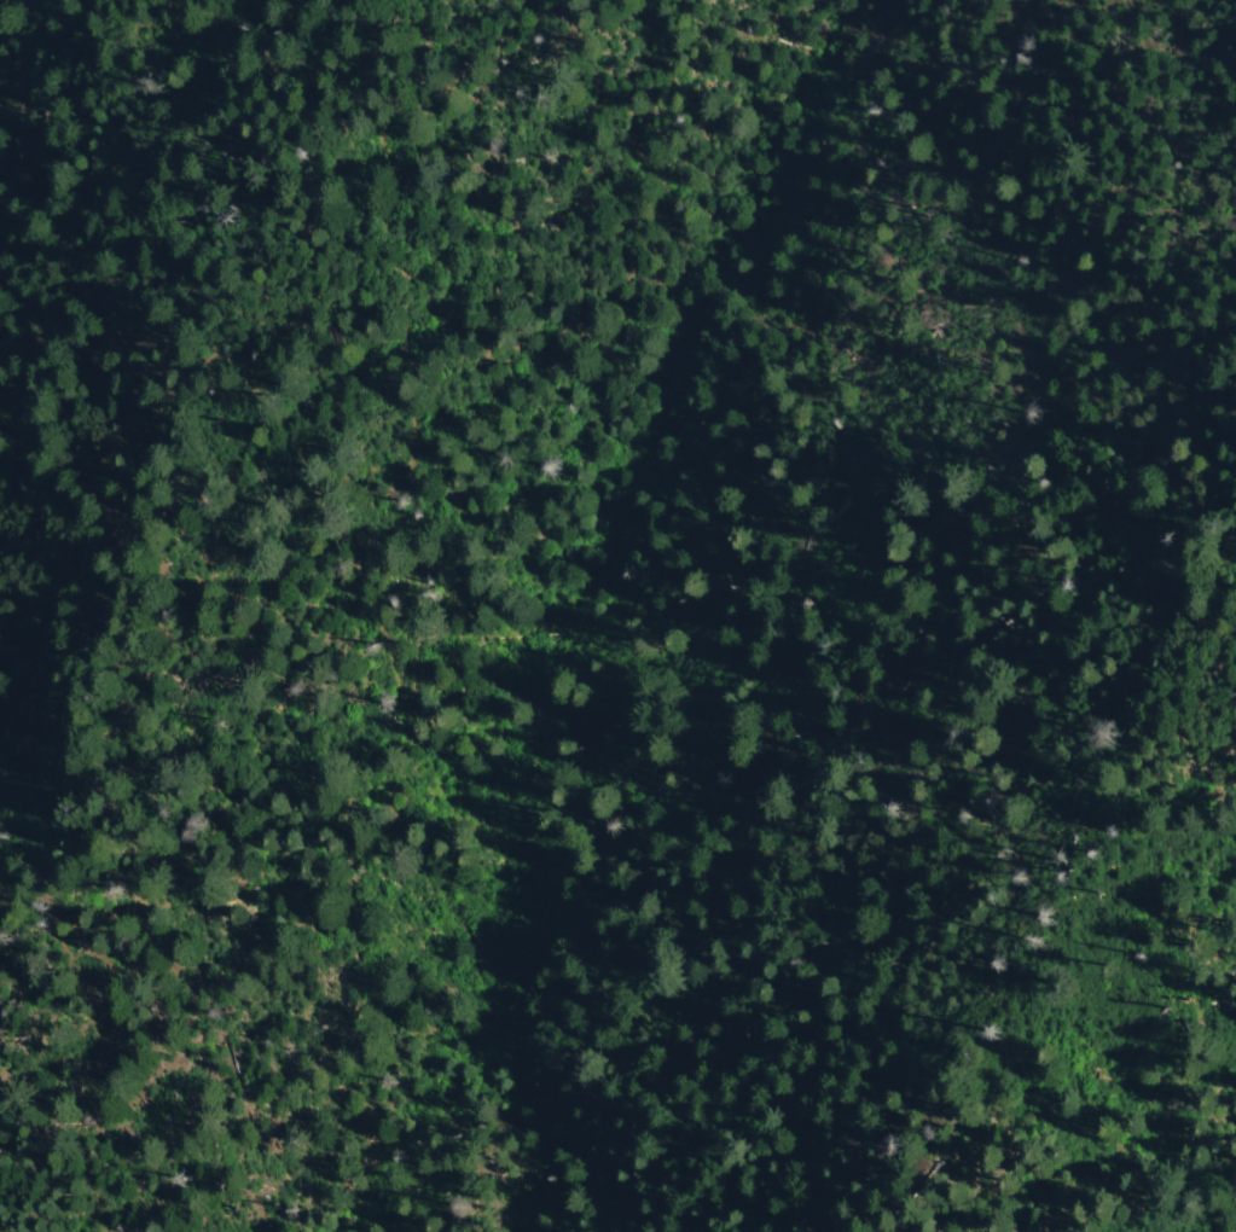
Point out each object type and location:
road: (190, 385)
road: (58, 1147)

